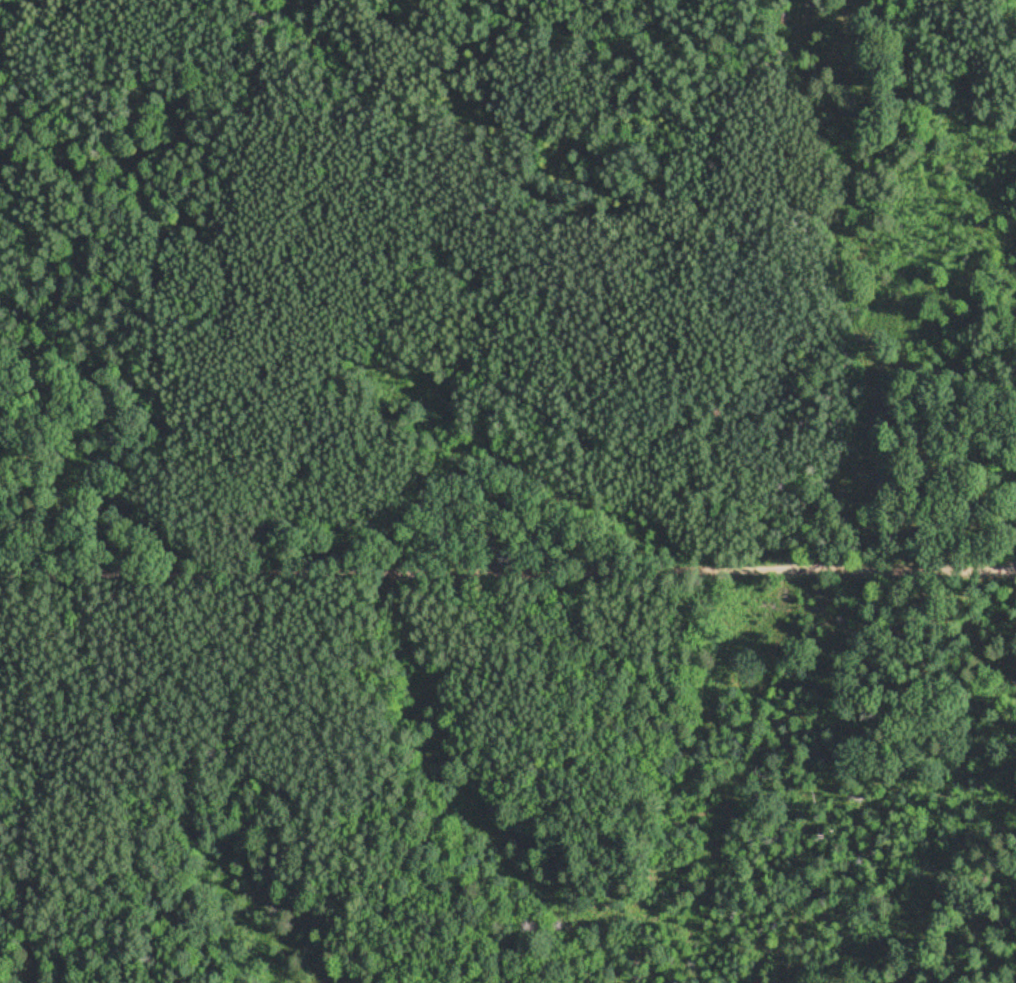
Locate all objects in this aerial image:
road: (508, 571)

